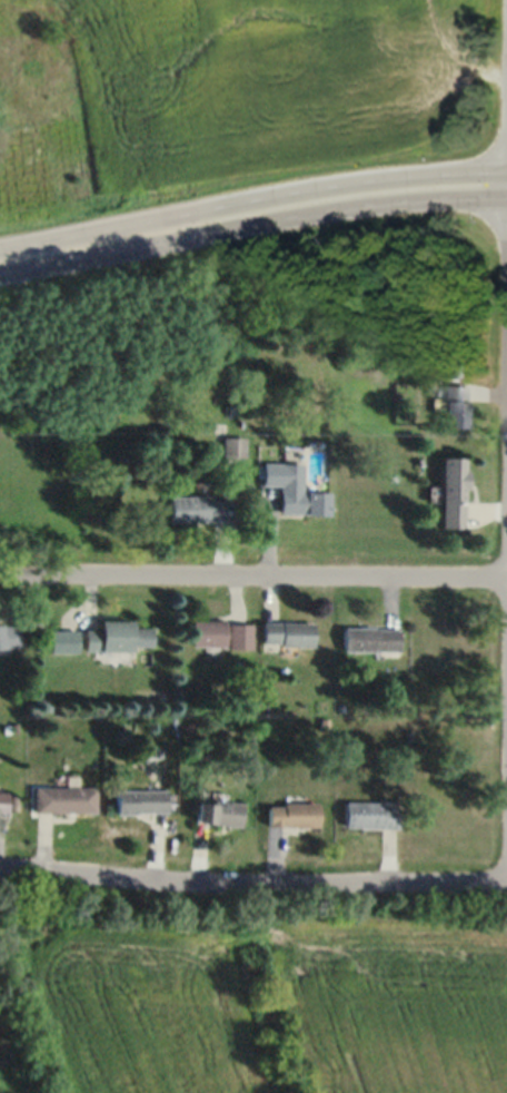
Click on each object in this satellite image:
road: (251, 198)
road: (252, 225)
building: (455, 404)
building: (232, 449)
building: (294, 490)
building: (453, 492)
building: (198, 508)
road: (252, 580)
building: (207, 632)
building: (286, 633)
building: (9, 634)
building: (239, 636)
building: (118, 637)
building: (369, 639)
building: (63, 798)
building: (3, 800)
building: (139, 800)
building: (217, 811)
building: (291, 814)
building: (369, 814)
road: (252, 882)
crop: (262, 989)

